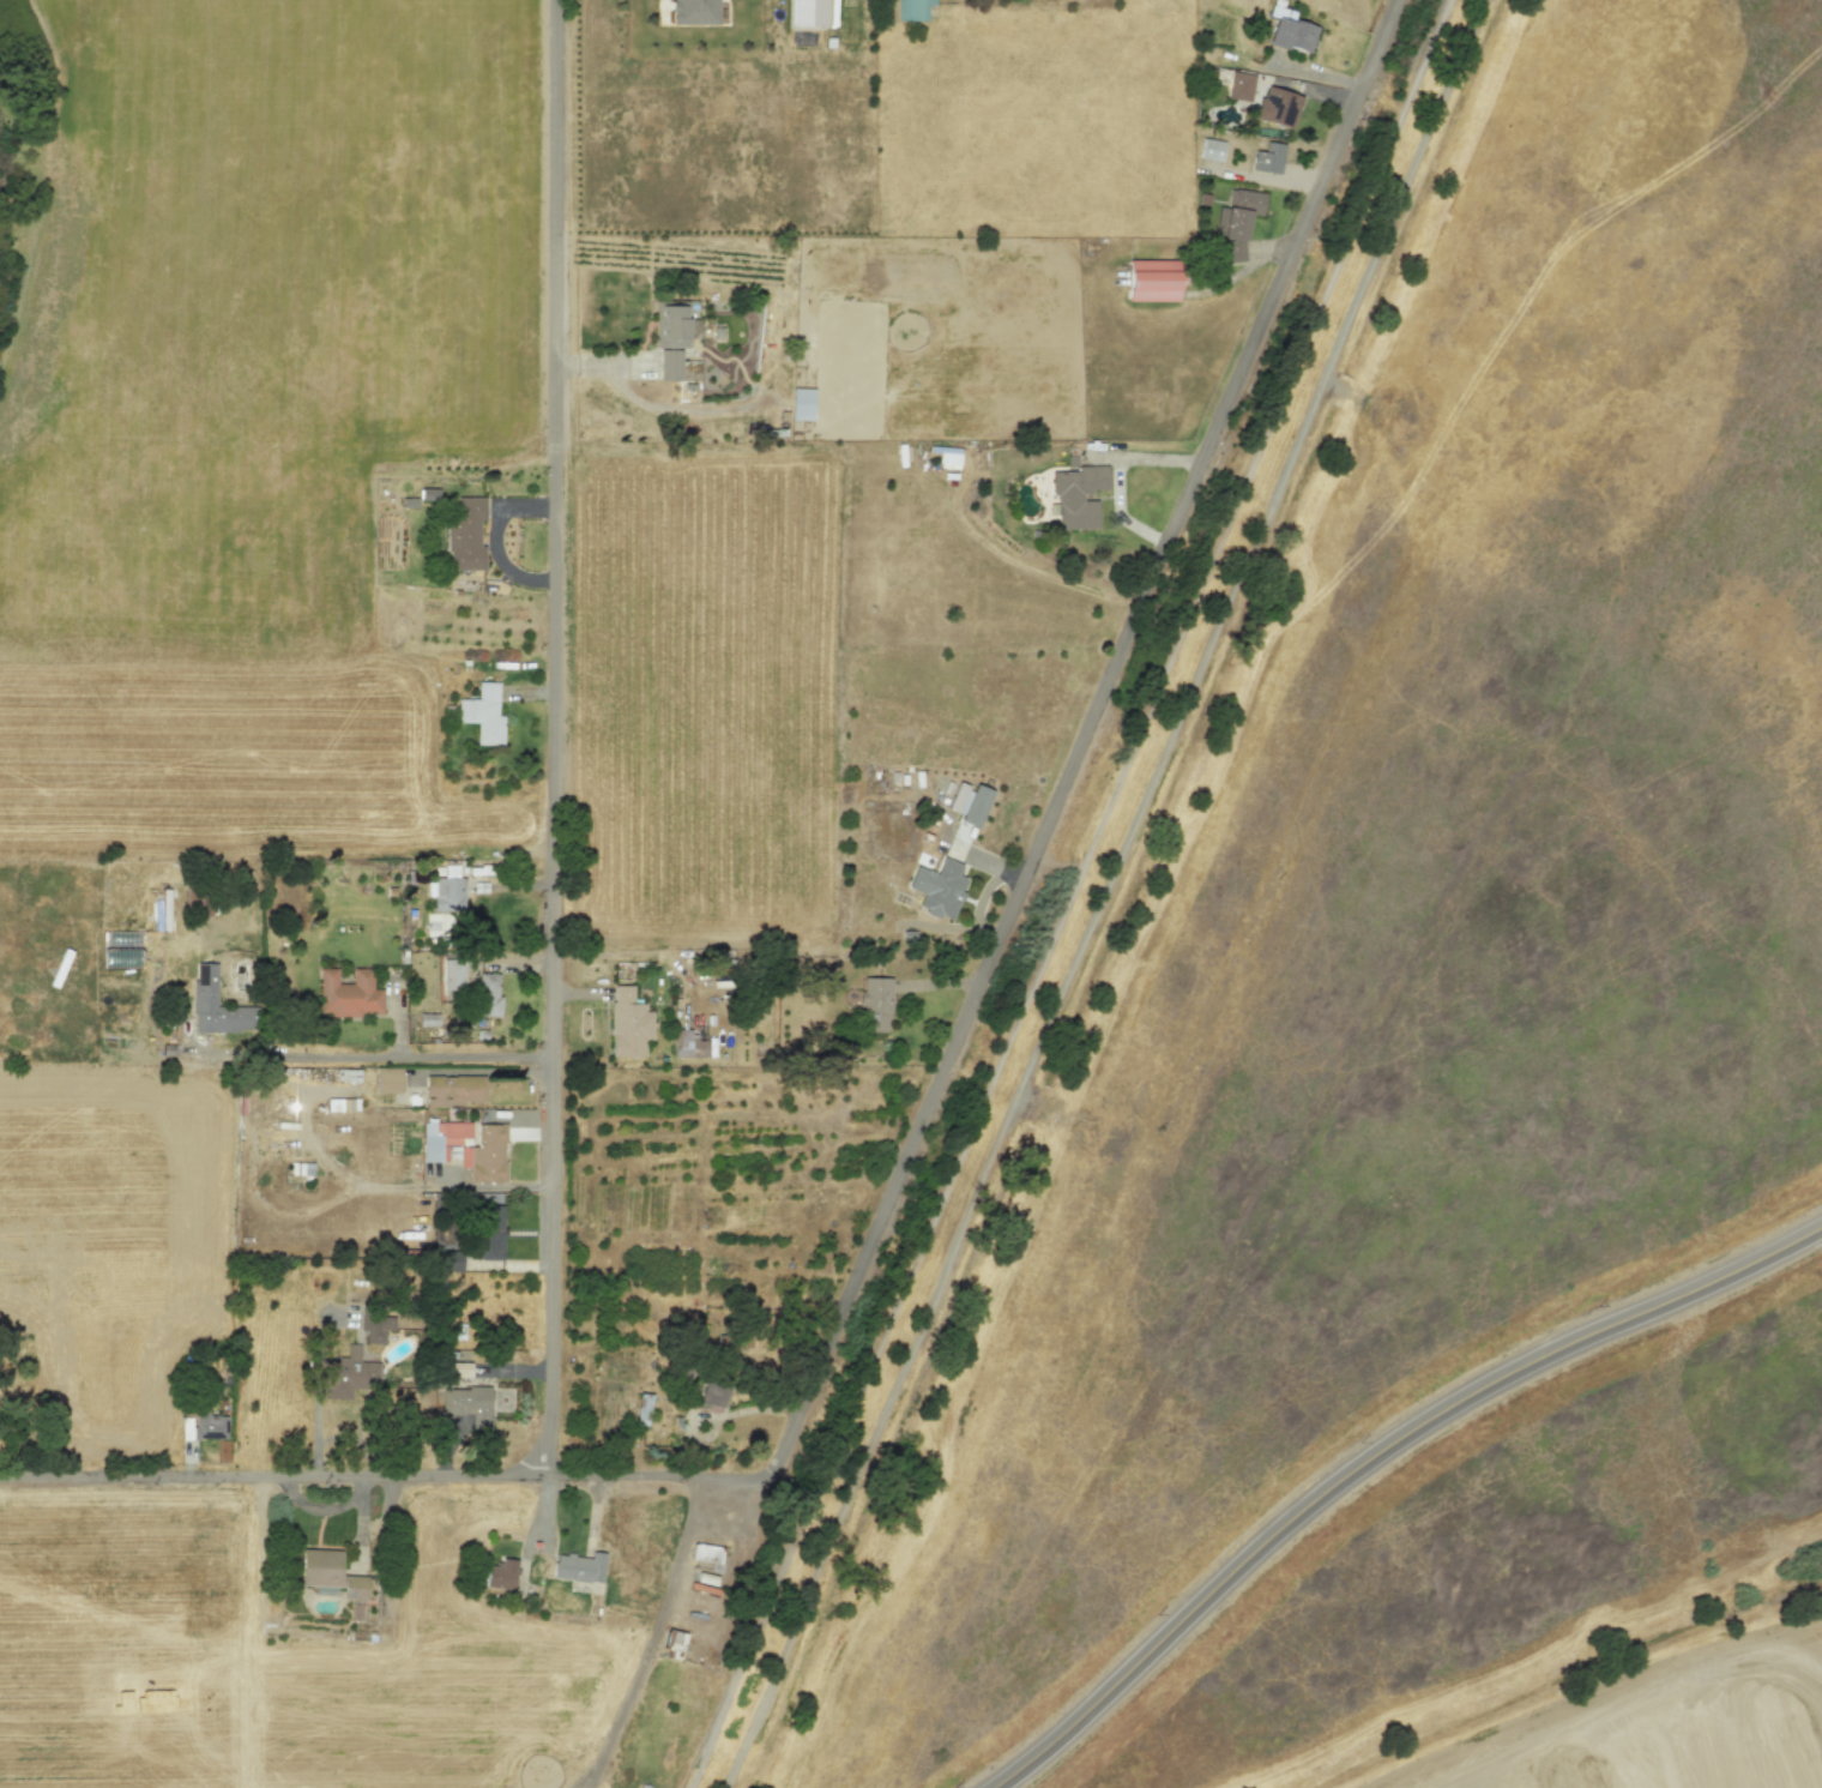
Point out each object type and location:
building: (912, 10)
building: (693, 12)
building: (807, 12)
building: (1291, 35)
building: (1241, 85)
building: (1278, 107)
crop: (910, 140)
building: (1211, 149)
building: (1268, 158)
building: (1237, 212)
building: (1232, 251)
building: (1153, 281)
building: (672, 325)
building: (669, 365)
building: (801, 404)
crop: (253, 417)
building: (948, 454)
road: (1121, 472)
building: (1076, 494)
building: (465, 534)
road: (494, 542)
crop: (701, 697)
crop: (965, 703)
building: (483, 714)
road: (553, 736)
road: (1084, 736)
building: (969, 802)
building: (937, 887)
building: (448, 891)
road: (1076, 893)
road: (1112, 896)
building: (204, 985)
building: (348, 993)
building: (875, 1005)
building: (427, 1019)
building: (628, 1023)
building: (689, 1044)
road: (393, 1056)
building: (387, 1080)
building: (452, 1090)
building: (340, 1104)
building: (441, 1139)
building: (484, 1154)
road: (321, 1157)
building: (300, 1168)
road: (487, 1185)
building: (489, 1226)
crop: (111, 1239)
building: (375, 1328)
building: (458, 1369)
building: (349, 1373)
building: (711, 1393)
building: (473, 1405)
building: (641, 1409)
building: (203, 1426)
road: (1371, 1455)
road: (382, 1473)
building: (707, 1555)
building: (578, 1566)
building: (330, 1573)
building: (500, 1575)
road: (651, 1635)
crop: (122, 1639)
building: (672, 1643)
crop: (1628, 1708)

